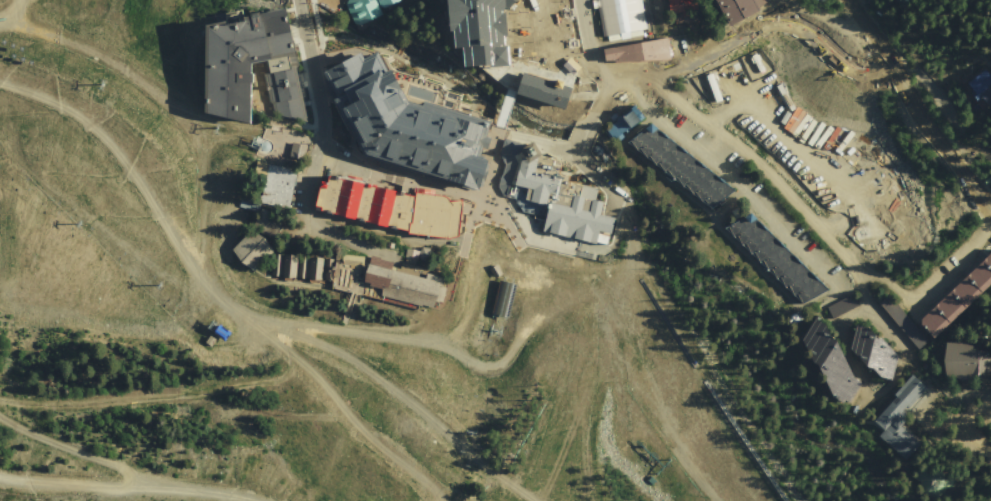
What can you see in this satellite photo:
building: (810, 0)
building: (815, 0)
road: (327, 1)
building: (905, 2)
building: (681, 6)
road: (9, 8)
building: (365, 9)
building: (739, 9)
building: (624, 15)
road: (750, 29)
road: (321, 30)
building: (495, 31)
road: (591, 44)
road: (526, 45)
building: (637, 53)
building: (255, 66)
aerialway pylon: (108, 88)
building: (981, 89)
building: (552, 91)
road: (451, 92)
road: (319, 93)
road: (596, 104)
road: (914, 109)
road: (506, 110)
building: (628, 125)
road: (584, 130)
aerialway pylon: (224, 133)
building: (412, 133)
parking lot: (818, 159)
building: (680, 166)
road: (366, 172)
road: (376, 174)
road: (600, 177)
building: (988, 178)
building: (279, 186)
road: (150, 192)
building: (557, 199)
road: (481, 201)
building: (388, 206)
building: (268, 223)
aerialway pylon: (80, 225)
road: (823, 227)
building: (990, 240)
road: (364, 244)
building: (255, 252)
building: (775, 258)
road: (459, 265)
building: (497, 272)
building: (362, 278)
aerialway pylon: (157, 285)
building: (506, 299)
building: (958, 300)
building: (844, 307)
road: (347, 314)
building: (905, 322)
ski resort: (306, 326)
building: (227, 332)
road: (387, 336)
building: (866, 353)
building: (962, 362)
building: (824, 366)
road: (152, 397)
road: (424, 407)
building: (900, 422)
road: (956, 428)
aerialway pylon: (468, 433)
road: (70, 450)
building: (933, 483)
road: (118, 488)
road: (433, 500)

